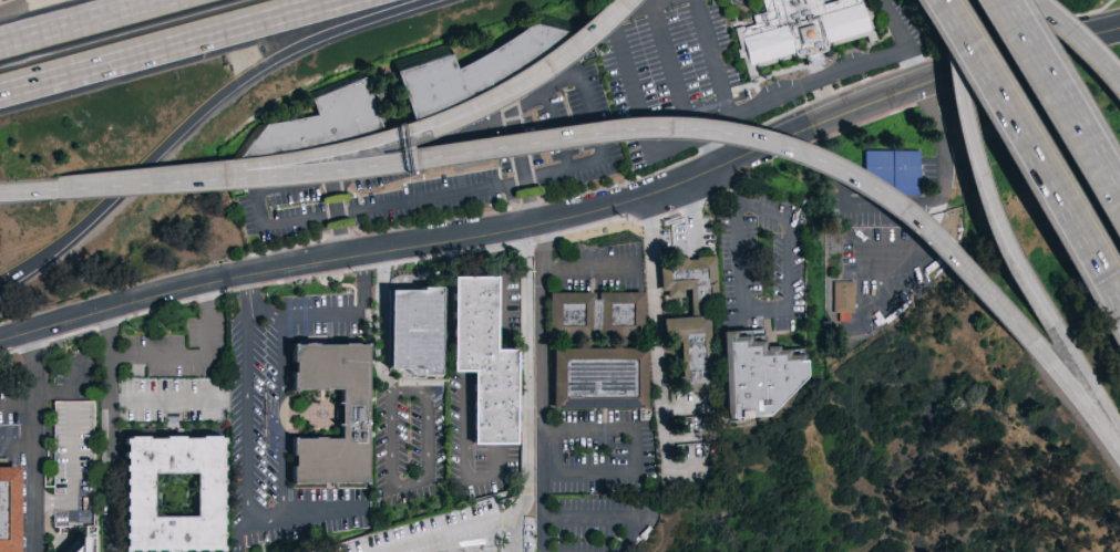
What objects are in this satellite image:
road: (74, 20)
building: (801, 30)
road: (952, 33)
road: (563, 35)
road: (1081, 39)
road: (172, 45)
building: (479, 69)
road: (831, 75)
road: (634, 86)
road: (1062, 100)
road: (195, 114)
building: (326, 122)
road: (574, 132)
road: (326, 147)
road: (706, 149)
road: (1030, 150)
road: (386, 153)
building: (891, 171)
road: (945, 186)
road: (86, 187)
road: (28, 190)
road: (987, 198)
road: (689, 209)
road: (568, 213)
road: (736, 228)
road: (915, 243)
road: (788, 264)
road: (592, 270)
building: (841, 300)
road: (253, 302)
road: (351, 313)
building: (600, 315)
building: (697, 325)
building: (422, 327)
road: (381, 339)
road: (657, 356)
building: (491, 358)
road: (195, 360)
road: (503, 367)
road: (1055, 367)
road: (1086, 374)
building: (765, 377)
building: (605, 378)
road: (542, 385)
road: (72, 393)
road: (14, 402)
road: (689, 409)
road: (247, 410)
road: (280, 420)
building: (361, 421)
road: (527, 424)
road: (463, 429)
road: (113, 430)
road: (708, 436)
road: (29, 442)
road: (639, 469)
road: (74, 479)
road: (404, 487)
building: (178, 494)
building: (11, 510)
road: (614, 517)
road: (307, 518)
road: (237, 533)
road: (512, 534)
building: (76, 543)

